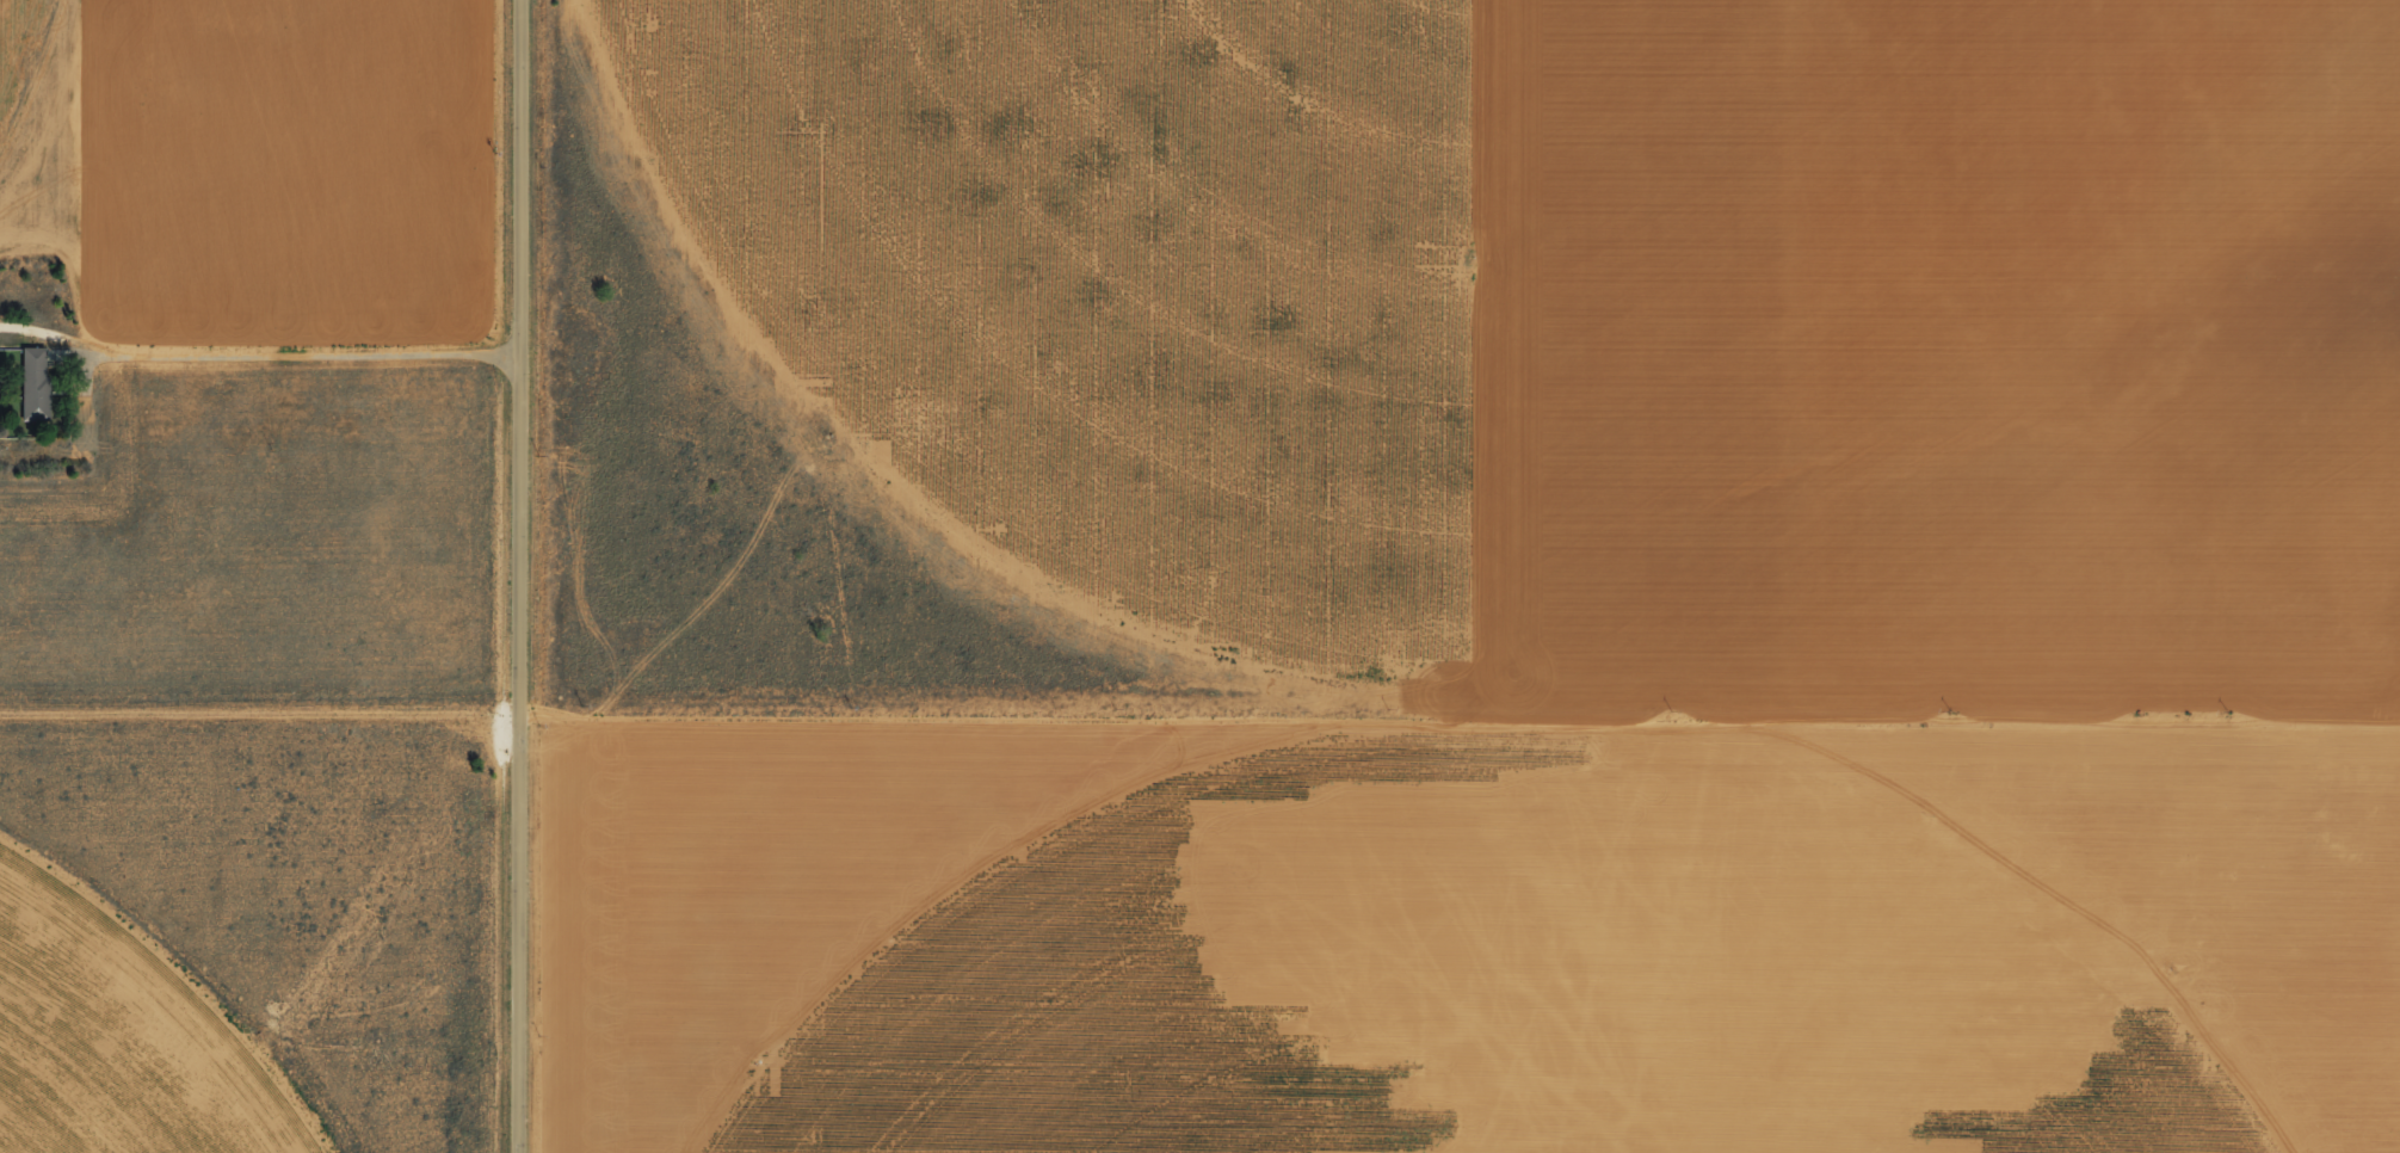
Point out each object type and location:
road: (310, 360)
road: (516, 575)

